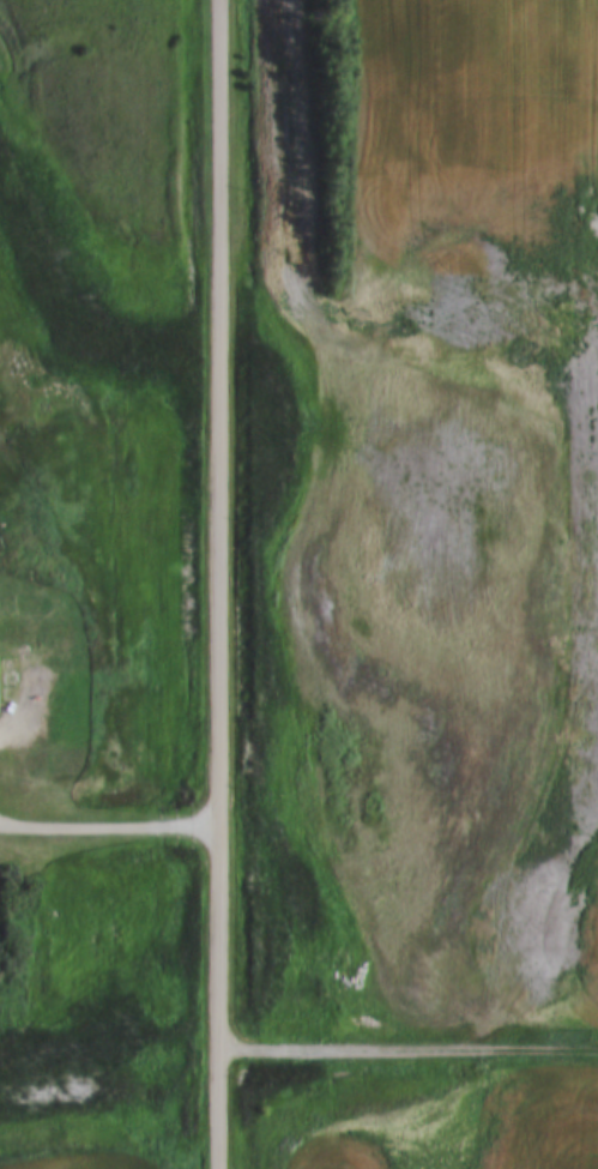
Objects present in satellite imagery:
road: (223, 584)
road: (111, 826)
road: (410, 1048)

